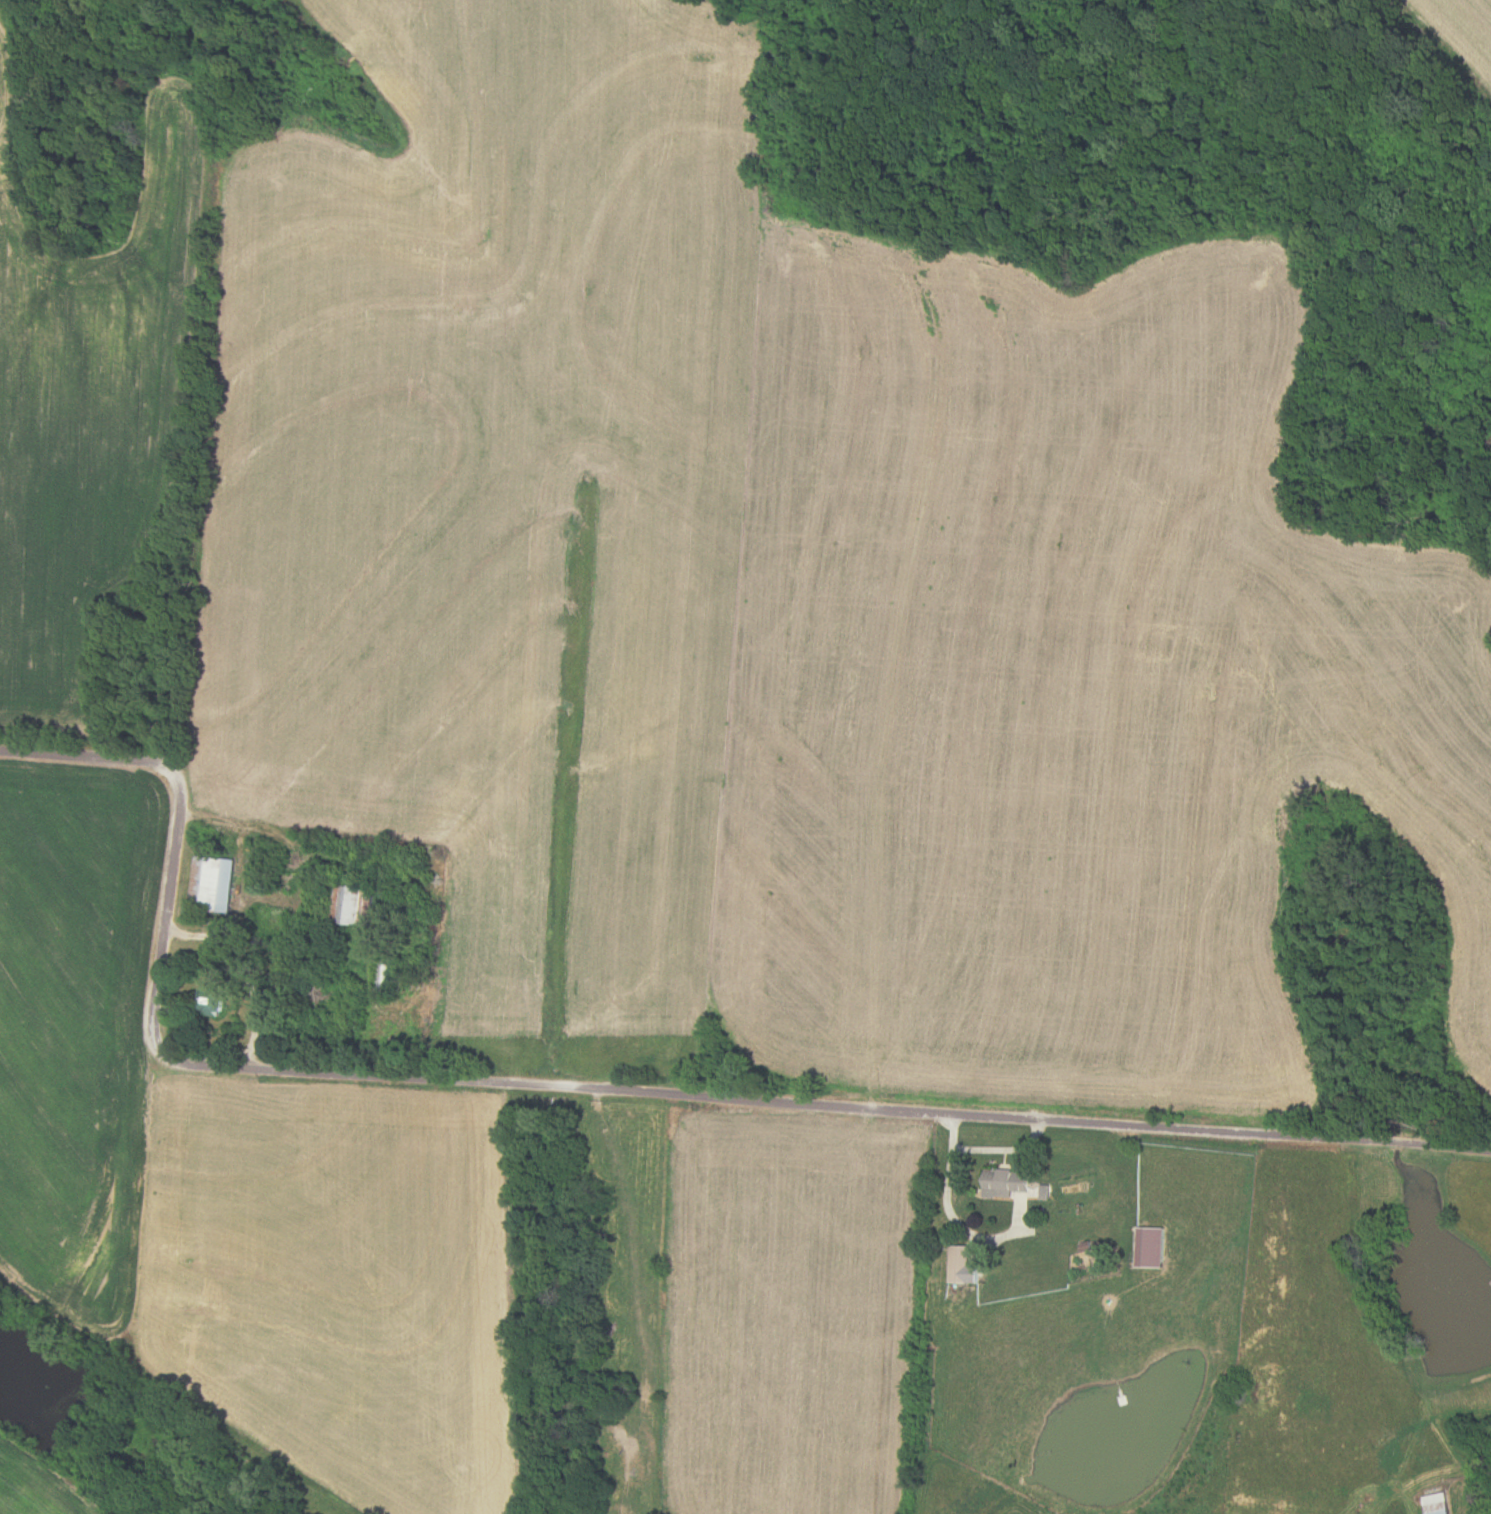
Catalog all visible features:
crop: (1442, 50)
crop: (88, 395)
crop: (500, 493)
crop: (1068, 686)
building: (210, 882)
building: (348, 904)
road: (242, 971)
building: (209, 1003)
crop: (74, 1030)
road: (591, 1087)
building: (1002, 1182)
road: (950, 1215)
building: (1148, 1246)
building: (961, 1265)
crop: (334, 1283)
crop: (794, 1310)
crop: (38, 1484)
building: (1435, 1503)

